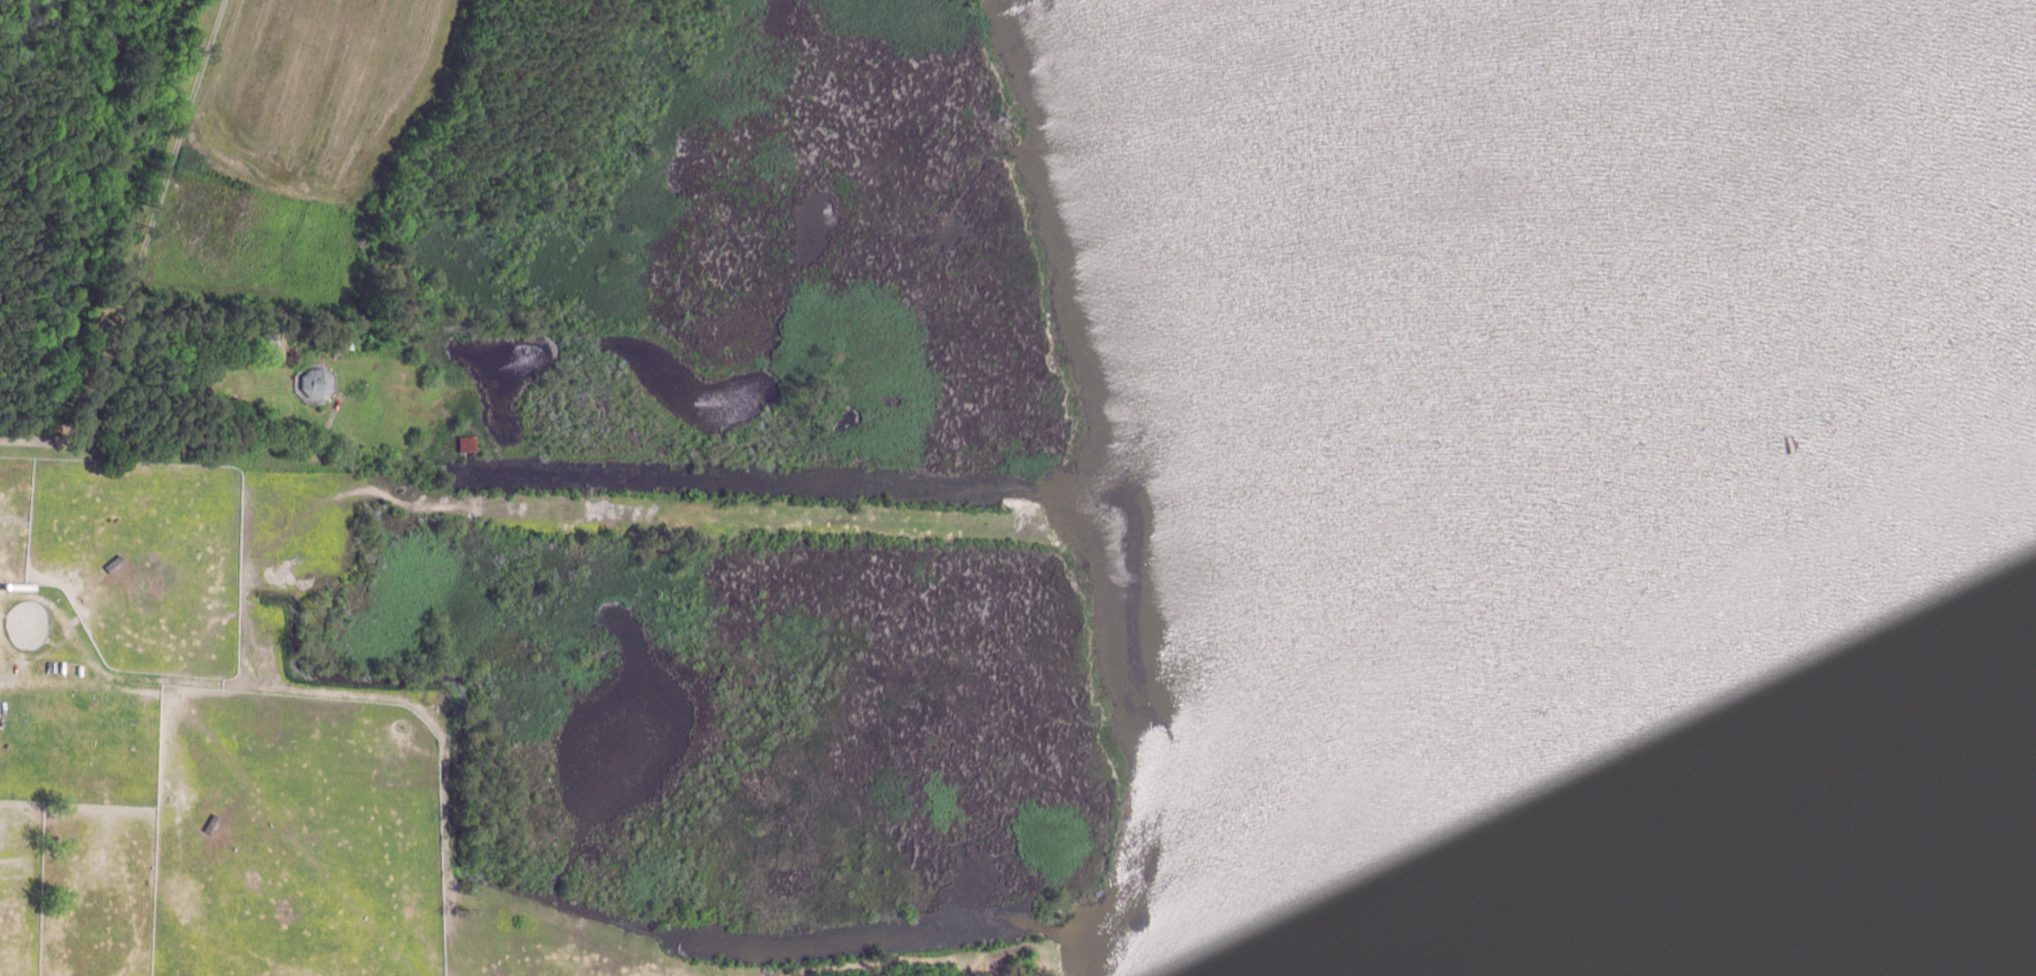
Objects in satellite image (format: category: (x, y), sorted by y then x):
road: (153, 220)
building: (337, 339)
building: (273, 346)
building: (314, 382)
road: (171, 444)
building: (469, 444)

